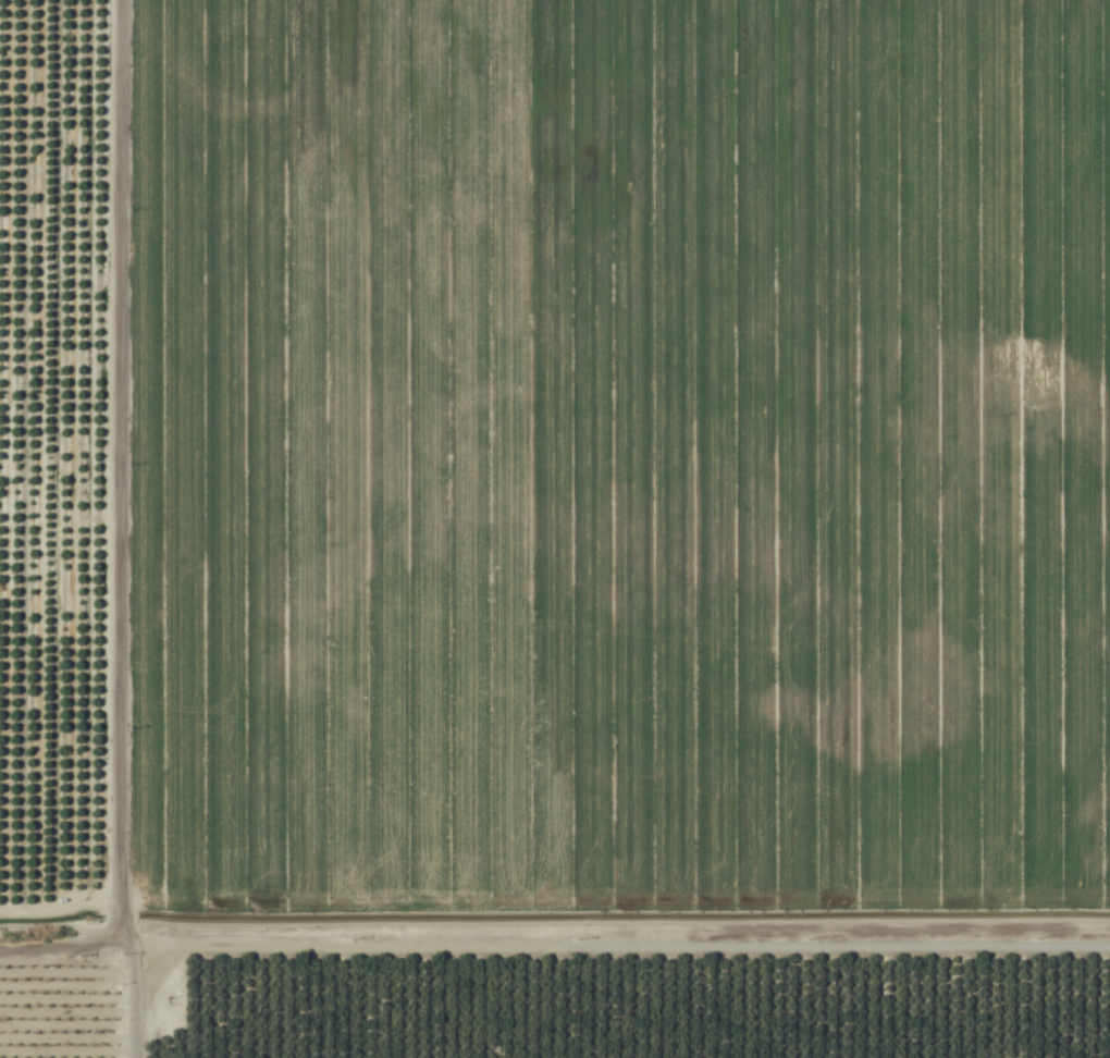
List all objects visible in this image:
road: (162, 529)
crop: (555, 529)
road: (81, 969)

